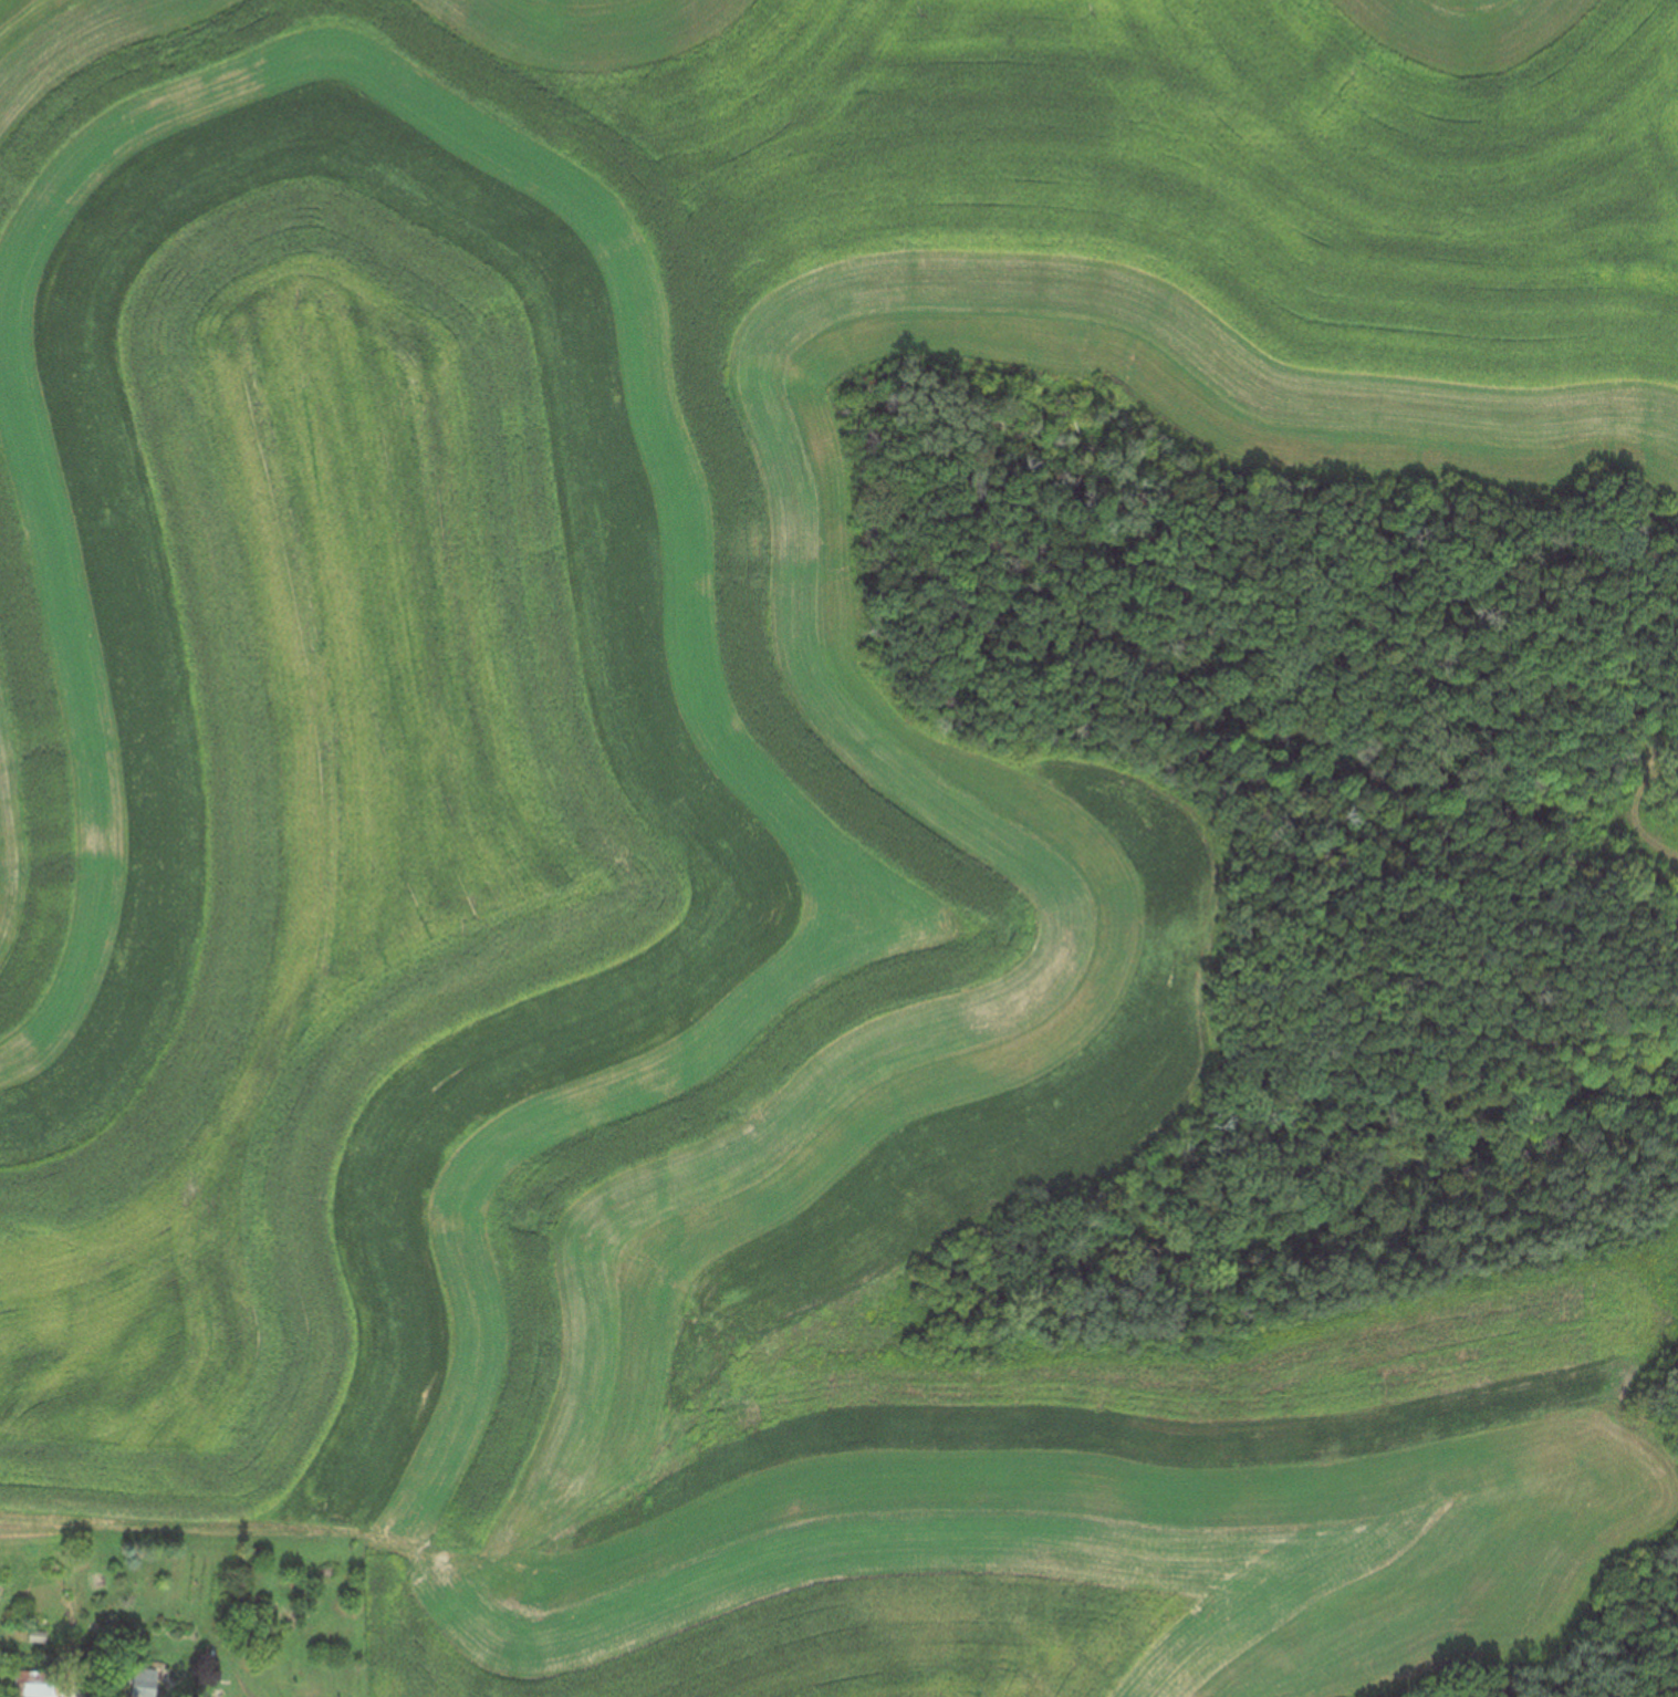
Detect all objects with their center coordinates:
building: (45, 1616)
building: (137, 1683)

